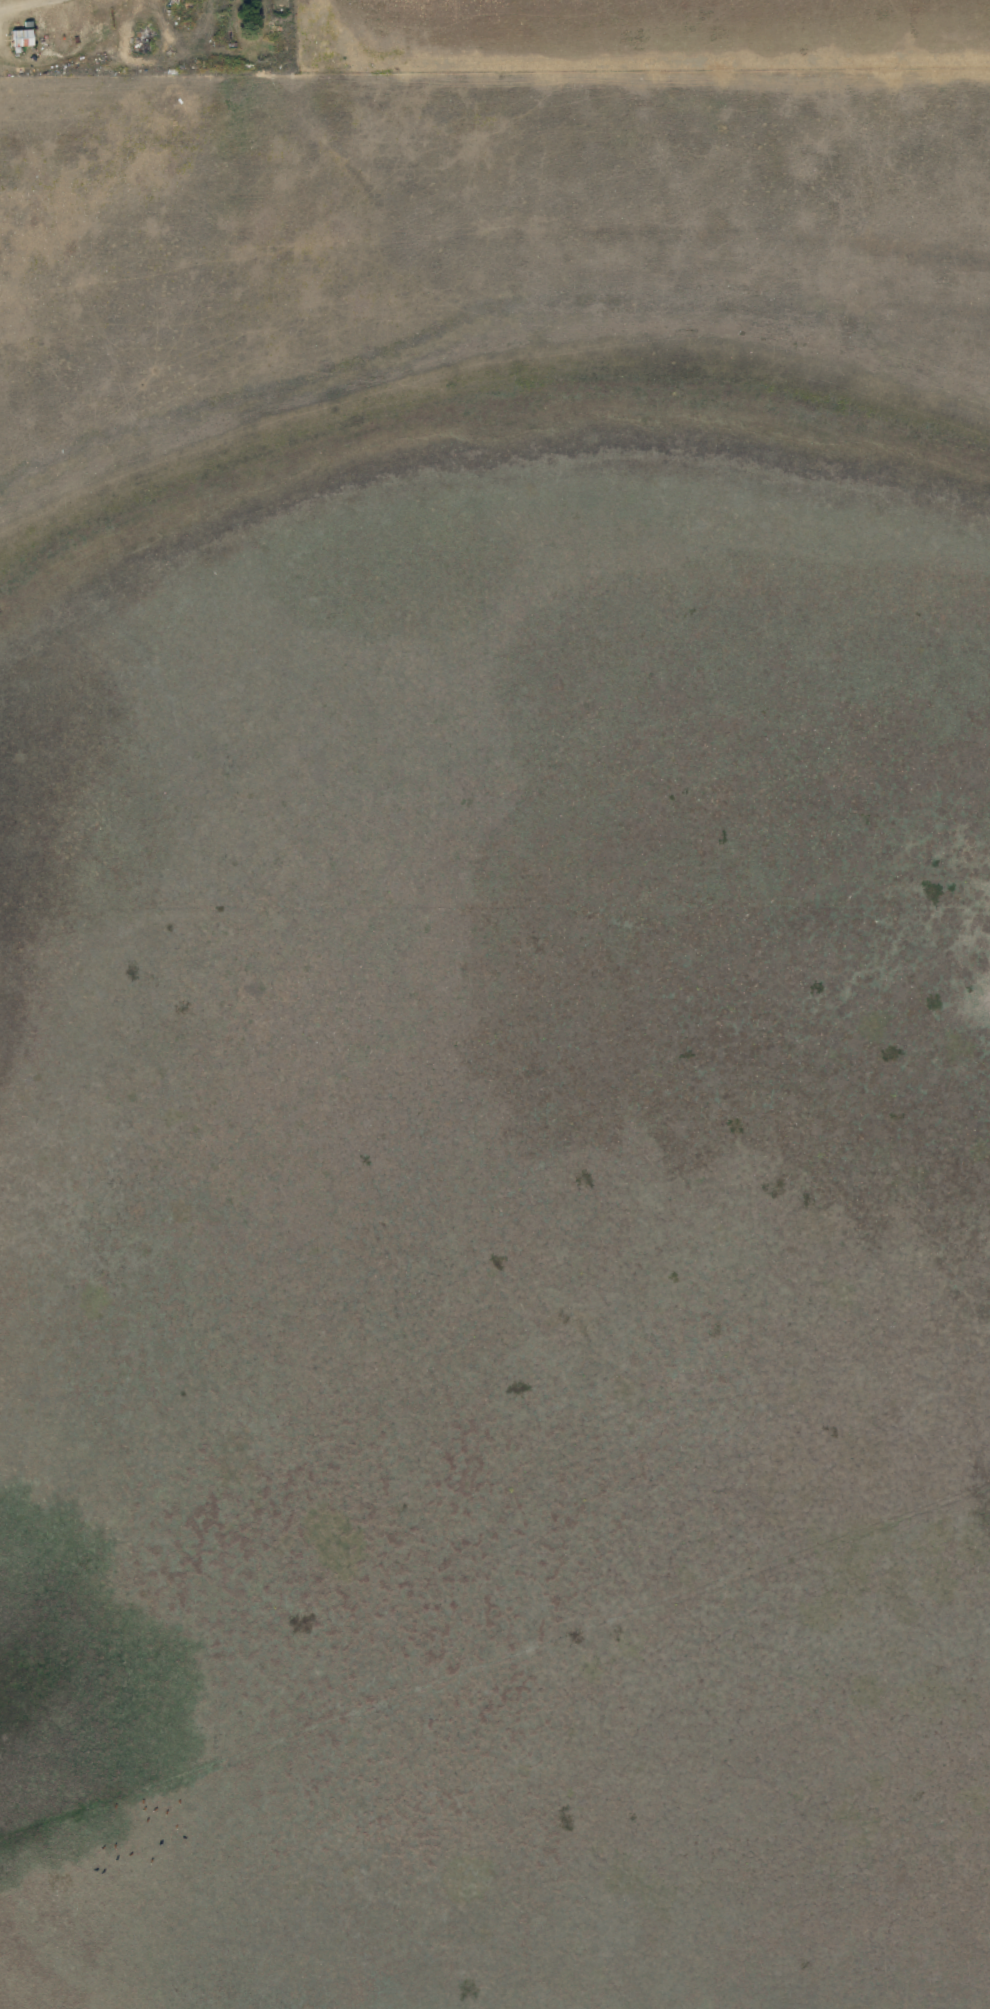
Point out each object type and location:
building: (25, 37)
road: (59, 477)

